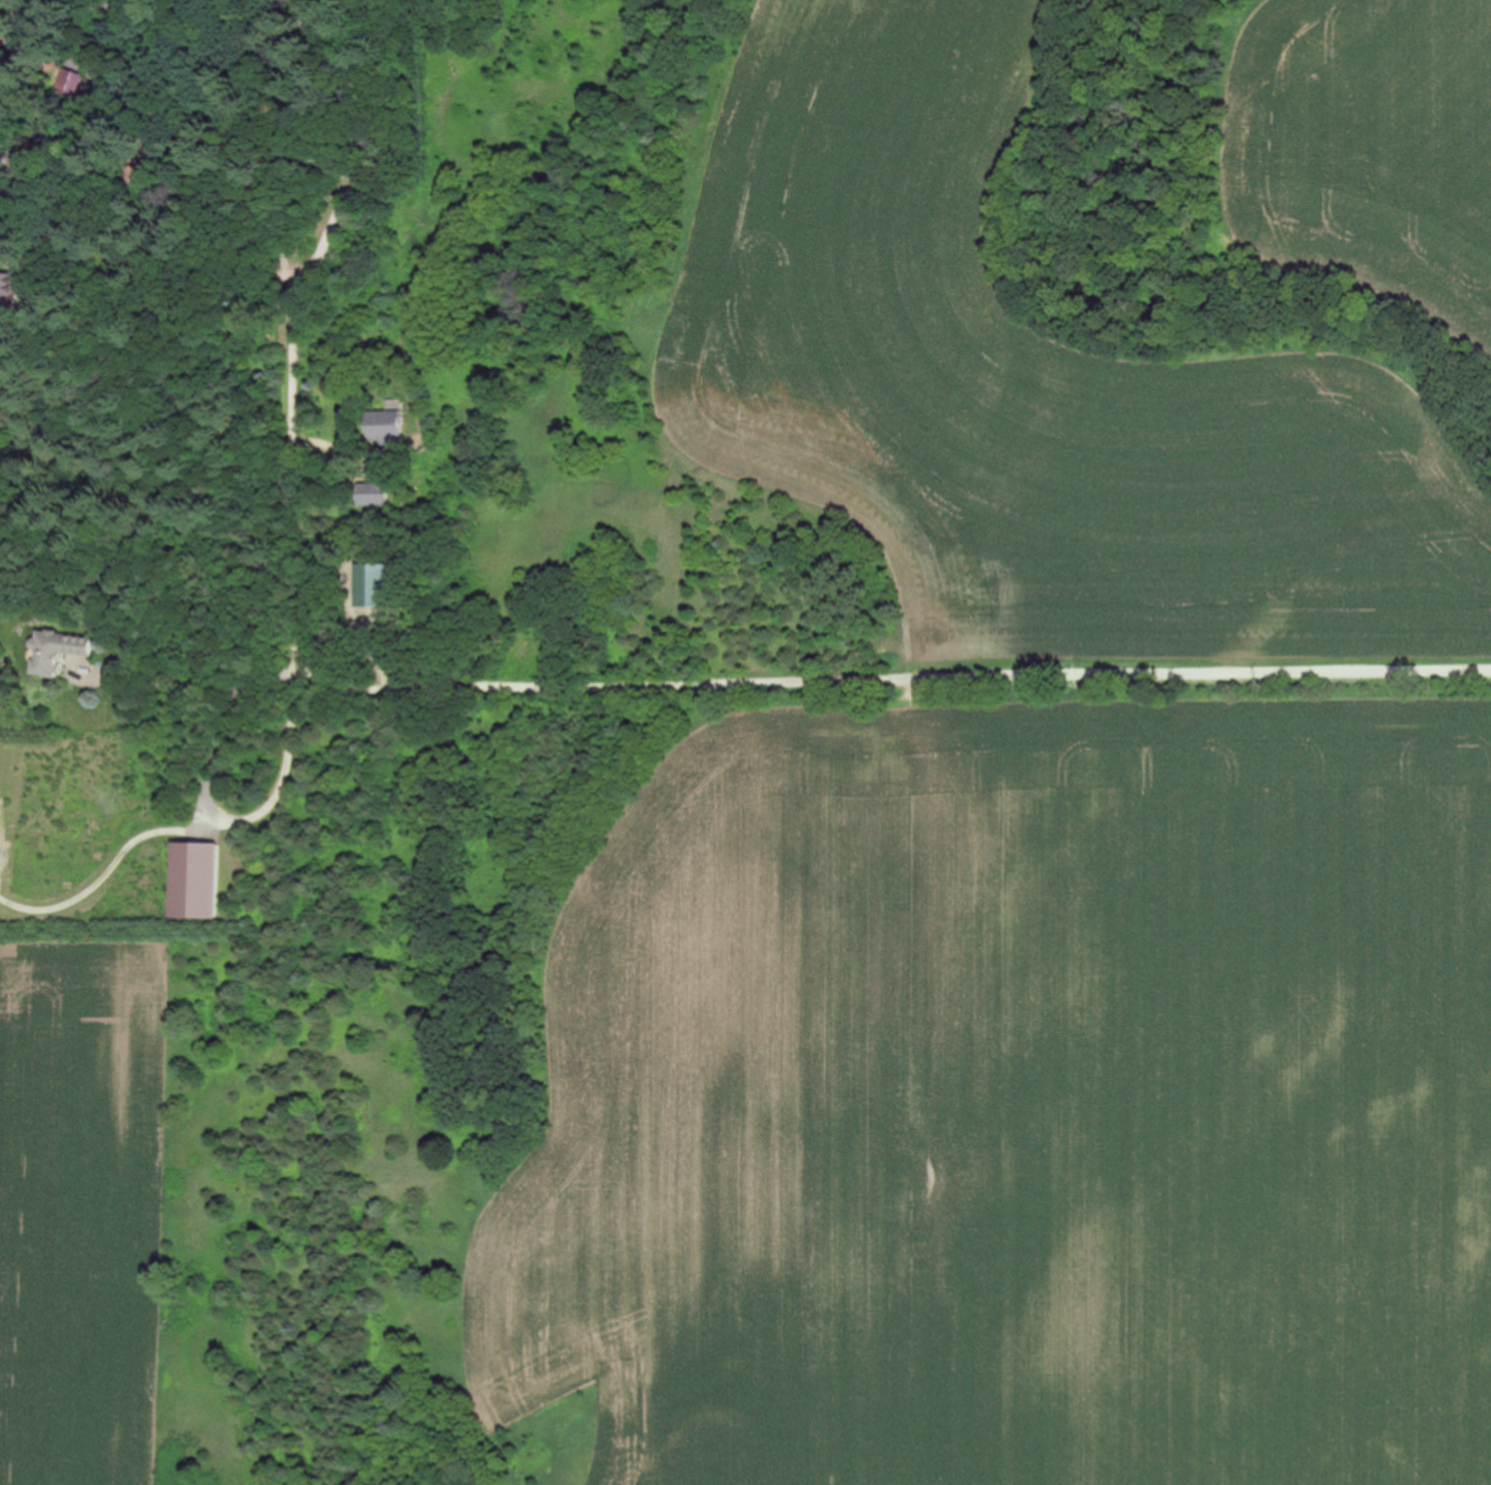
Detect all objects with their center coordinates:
crop: (1364, 133)
crop: (1028, 392)
building: (57, 652)
road: (838, 685)
road: (181, 827)
crop: (1017, 1100)
crop: (81, 1204)

